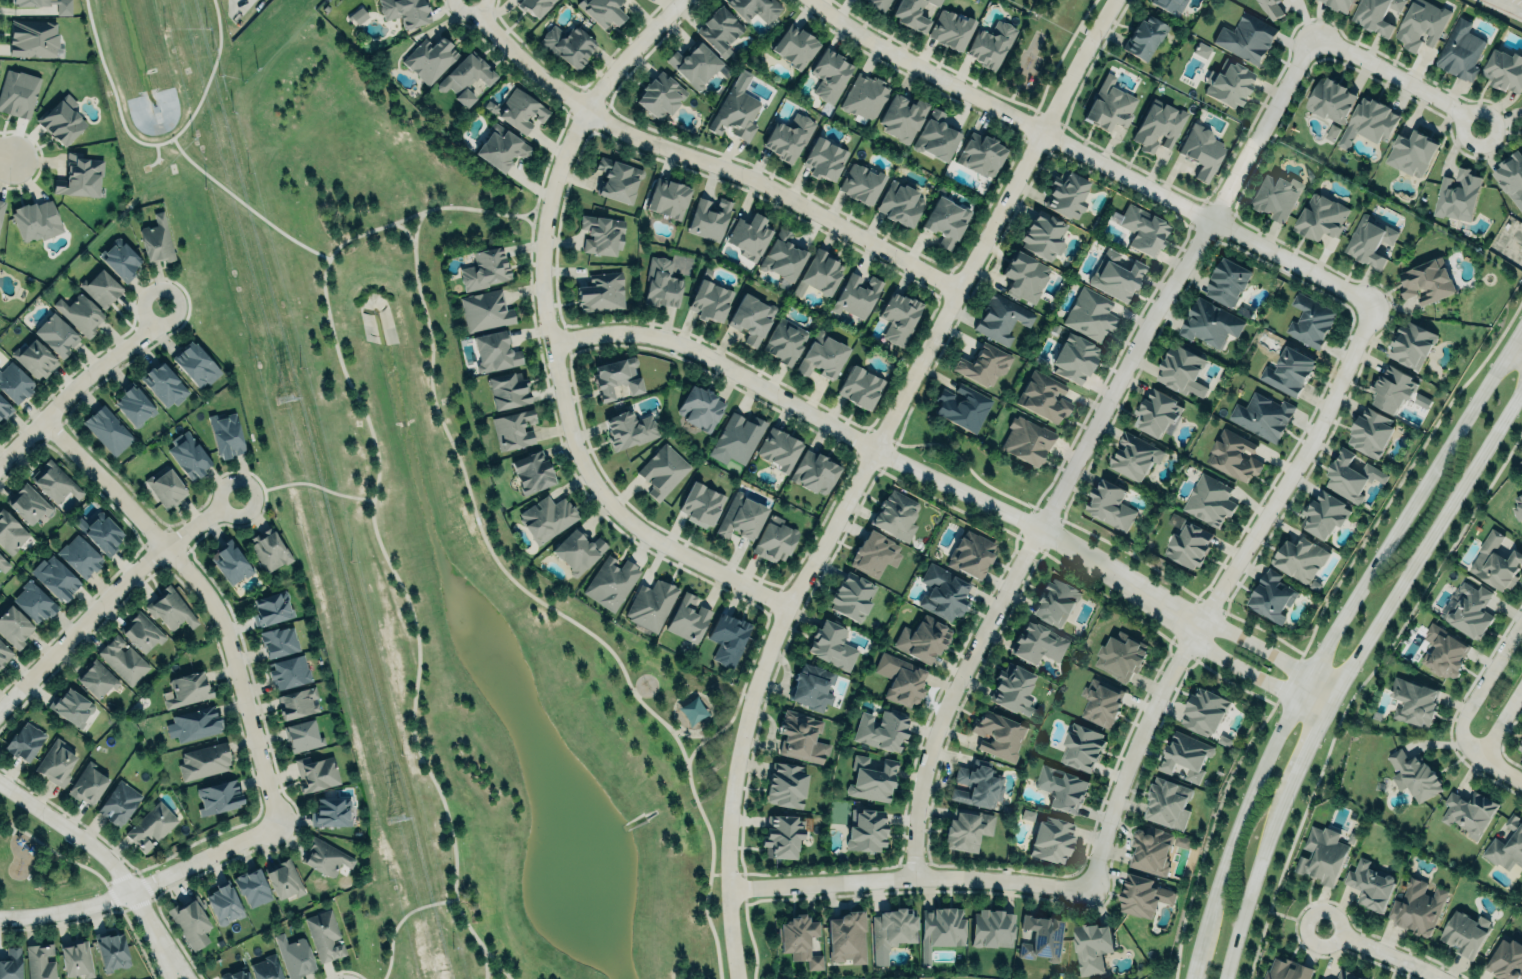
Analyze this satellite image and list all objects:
building: (1352, 0)
building: (878, 4)
building: (1339, 4)
building: (1169, 5)
building: (534, 6)
road: (1508, 6)
building: (63, 8)
building: (756, 8)
building: (1271, 8)
building: (405, 11)
building: (602, 11)
building: (911, 14)
building: (1375, 14)
building: (358, 15)
building: (1421, 23)
building: (950, 26)
building: (719, 28)
building: (1144, 37)
building: (34, 38)
building: (1246, 38)
building: (991, 43)
building: (795, 44)
building: (567, 45)
building: (1201, 49)
building: (1460, 50)
building: (429, 58)
building: (694, 63)
building: (1504, 69)
building: (829, 73)
building: (466, 78)
road: (1396, 78)
building: (1228, 81)
building: (18, 91)
building: (659, 94)
building: (864, 96)
building: (1330, 98)
building: (1109, 103)
building: (734, 109)
building: (521, 110)
building: (902, 116)
building: (60, 118)
building: (1373, 118)
building: (1157, 124)
building: (1331, 132)
building: (935, 135)
building: (788, 137)
road: (154, 143)
road: (3, 144)
building: (501, 148)
building: (1201, 148)
building: (1411, 151)
building: (980, 152)
road: (1085, 158)
building: (824, 159)
road: (699, 160)
building: (1510, 172)
building: (79, 174)
building: (618, 175)
building: (861, 181)
building: (1066, 192)
building: (1457, 195)
building: (1275, 196)
building: (668, 198)
building: (899, 201)
road: (244, 203)
building: (1, 205)
road: (532, 209)
building: (709, 217)
building: (1320, 217)
building: (35, 219)
building: (945, 220)
building: (1141, 227)
road: (404, 229)
building: (601, 233)
building: (749, 234)
building: (1042, 234)
building: (157, 238)
building: (1370, 242)
building: (782, 254)
building: (120, 257)
building: (481, 266)
building: (818, 270)
building: (1115, 273)
building: (1024, 275)
building: (1425, 279)
building: (1227, 280)
building: (661, 282)
building: (101, 286)
building: (600, 290)
building: (855, 294)
building: (710, 301)
building: (485, 310)
building: (79, 311)
building: (1090, 314)
building: (751, 316)
building: (899, 316)
building: (1001, 318)
building: (1310, 321)
building: (1207, 323)
building: (56, 333)
road: (547, 337)
building: (784, 339)
building: (1411, 344)
road: (1516, 344)
building: (494, 349)
road: (1516, 351)
building: (822, 355)
building: (34, 357)
building: (1074, 357)
building: (195, 364)
building: (983, 364)
building: (1181, 370)
building: (1288, 370)
building: (616, 377)
building: (13, 381)
building: (163, 384)
building: (860, 385)
road: (82, 386)
building: (508, 389)
building: (1393, 389)
building: (1044, 394)
building: (1422, 401)
power tower: (284, 402)
building: (133, 403)
building: (700, 406)
building: (962, 406)
building: (4, 407)
building: (1156, 411)
building: (1262, 415)
building: (107, 428)
building: (513, 429)
building: (629, 429)
building: (1370, 429)
building: (225, 434)
building: (737, 438)
building: (1027, 439)
building: (779, 446)
road: (1082, 447)
road: (878, 452)
building: (188, 454)
building: (1232, 454)
building: (1133, 456)
building: (532, 469)
building: (662, 471)
building: (814, 472)
road: (859, 472)
building: (1353, 475)
building: (54, 481)
road: (302, 482)
building: (165, 486)
building: (1209, 500)
building: (28, 503)
building: (1109, 503)
building: (700, 504)
building: (1518, 506)
road: (369, 512)
building: (1323, 513)
building: (741, 515)
building: (896, 515)
building: (546, 517)
building: (10, 532)
building: (100, 532)
road: (1089, 536)
building: (774, 539)
road: (1424, 542)
building: (1188, 544)
building: (269, 548)
building: (578, 549)
building: (874, 552)
building: (970, 552)
building: (79, 555)
park: (437, 555)
building: (1300, 558)
building: (230, 560)
building: (1495, 561)
building: (3, 563)
building: (55, 576)
road: (1073, 576)
building: (611, 582)
building: (942, 590)
road: (216, 591)
road: (110, 593)
road: (1215, 593)
building: (1271, 595)
building: (852, 596)
building: (34, 600)
building: (1054, 600)
building: (651, 604)
road: (550, 605)
building: (271, 607)
building: (170, 609)
building: (1470, 610)
building: (688, 618)
road: (1313, 621)
building: (14, 625)
building: (141, 630)
building: (727, 636)
road: (1327, 638)
building: (922, 639)
building: (278, 640)
building: (1037, 643)
building: (832, 644)
building: (1443, 648)
building: (4, 651)
road: (1264, 653)
building: (1120, 655)
building: (122, 659)
building: (289, 671)
road: (1251, 676)
building: (95, 677)
building: (902, 679)
building: (812, 685)
road: (1355, 686)
building: (1010, 687)
building: (187, 689)
road: (739, 689)
road: (1476, 689)
building: (1101, 701)
building: (297, 702)
building: (1414, 702)
building: (71, 705)
building: (1204, 712)
building: (194, 722)
road: (1500, 724)
building: (881, 730)
building: (301, 734)
road: (688, 734)
building: (998, 734)
building: (800, 736)
building: (25, 741)
building: (1082, 746)
building: (1520, 746)
road: (1300, 750)
building: (1185, 754)
building: (203, 760)
building: (55, 761)
building: (316, 771)
building: (1413, 773)
road: (1500, 773)
building: (871, 779)
building: (87, 782)
building: (977, 783)
building: (785, 784)
building: (1062, 787)
building: (217, 796)
building: (118, 802)
building: (1168, 802)
building: (1467, 810)
building: (330, 811)
power tower: (393, 816)
building: (150, 825)
building: (966, 828)
building: (865, 829)
building: (782, 834)
road: (82, 839)
building: (1052, 839)
building: (1181, 841)
building: (1506, 845)
building: (1151, 850)
building: (1322, 854)
building: (324, 856)
park: (40, 862)
road: (718, 873)
building: (283, 878)
road: (906, 883)
road: (143, 884)
building: (1369, 884)
building: (252, 886)
road: (1246, 889)
building: (1143, 895)
building: (223, 904)
building: (1417, 905)
road: (398, 919)
building: (190, 920)
road: (1295, 921)
building: (942, 925)
building: (892, 927)
building: (991, 927)
building: (1465, 933)
building: (323, 934)
road: (748, 935)
building: (846, 936)
building: (1042, 936)
building: (799, 940)
building: (1091, 946)
road: (155, 948)
road: (164, 948)
building: (110, 950)
road: (1382, 953)
building: (293, 955)
building: (76, 958)
road: (485, 958)
building: (39, 961)
building: (1505, 961)
building: (11, 964)
building: (266, 968)
road: (494, 968)
building: (1286, 969)
building: (234, 973)
building: (1347, 975)

